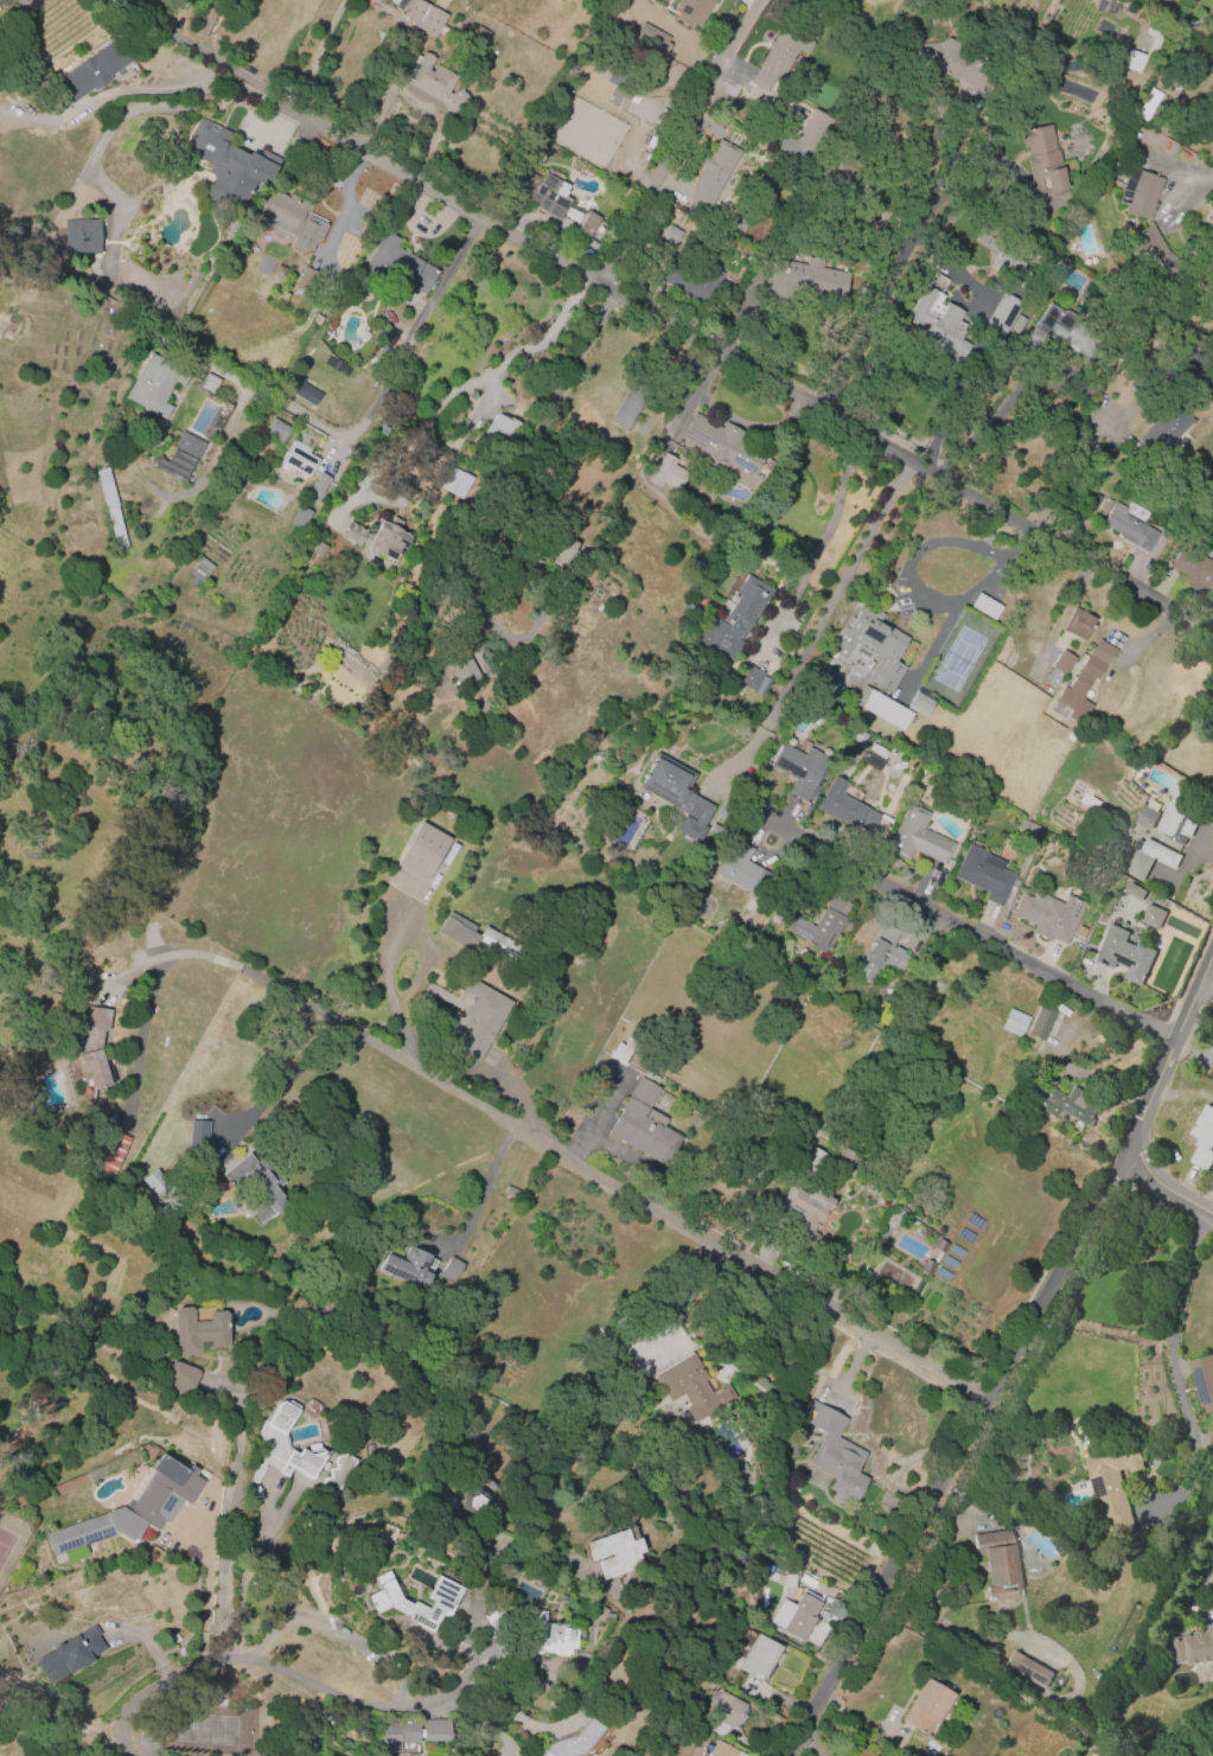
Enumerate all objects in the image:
building: (440, 4)
building: (690, 11)
building: (423, 17)
building: (205, 23)
building: (651, 37)
road: (196, 49)
building: (1145, 51)
building: (778, 56)
road: (320, 58)
building: (943, 60)
building: (92, 70)
road: (189, 85)
building: (433, 85)
building: (624, 85)
building: (1147, 104)
road: (121, 116)
building: (803, 138)
road: (681, 146)
building: (1043, 162)
building: (228, 164)
building: (714, 174)
road: (1199, 179)
building: (538, 192)
building: (1138, 192)
building: (291, 218)
building: (587, 224)
building: (671, 234)
building: (82, 237)
building: (1149, 249)
building: (398, 264)
building: (1008, 264)
road: (895, 270)
building: (306, 279)
building: (691, 280)
building: (805, 281)
building: (280, 298)
building: (315, 319)
building: (939, 324)
building: (1016, 324)
building: (1056, 333)
road: (581, 351)
road: (397, 369)
road: (735, 370)
road: (479, 378)
building: (208, 383)
building: (154, 384)
building: (306, 394)
road: (953, 396)
road: (1007, 400)
building: (627, 406)
building: (502, 428)
building: (1164, 428)
building: (276, 430)
building: (722, 445)
building: (180, 456)
building: (298, 459)
building: (668, 475)
building: (455, 481)
building: (317, 489)
building: (109, 506)
building: (1103, 506)
building: (299, 517)
building: (1129, 528)
building: (377, 537)
road: (979, 548)
road: (1021, 548)
building: (318, 550)
building: (562, 551)
building: (1193, 568)
building: (199, 570)
road: (1002, 572)
road: (913, 577)
building: (984, 606)
building: (735, 619)
road: (822, 619)
building: (1078, 624)
building: (873, 646)
building: (1062, 662)
building: (464, 671)
building: (748, 677)
building: (1085, 681)
building: (919, 704)
building: (882, 708)
building: (874, 756)
building: (800, 770)
building: (676, 793)
building: (1086, 802)
building: (845, 807)
building: (723, 810)
building: (1177, 815)
building: (1145, 817)
building: (714, 829)
building: (918, 836)
building: (420, 850)
building: (1148, 858)
building: (743, 871)
building: (984, 874)
building: (1132, 892)
building: (1048, 915)
building: (1151, 917)
building: (819, 924)
road: (966, 927)
building: (475, 937)
building: (880, 953)
building: (1122, 954)
road: (324, 1011)
building: (480, 1014)
building: (875, 1015)
building: (1013, 1022)
building: (1040, 1022)
building: (92, 1047)
building: (619, 1053)
road: (302, 1066)
building: (1061, 1104)
building: (643, 1125)
building: (197, 1134)
building: (1202, 1137)
building: (110, 1152)
building: (155, 1182)
building: (255, 1186)
road: (487, 1188)
road: (1166, 1192)
building: (805, 1208)
road: (746, 1260)
building: (404, 1266)
building: (451, 1270)
road: (678, 1294)
road: (1169, 1327)
building: (198, 1330)
road: (1015, 1358)
building: (181, 1377)
building: (1202, 1381)
building: (692, 1388)
building: (1209, 1436)
building: (273, 1441)
building: (835, 1455)
building: (254, 1473)
building: (338, 1473)
building: (1112, 1484)
building: (475, 1503)
building: (130, 1508)
road: (223, 1513)
building: (614, 1553)
building: (998, 1564)
road: (241, 1594)
building: (415, 1602)
building: (797, 1615)
building: (549, 1636)
building: (1194, 1647)
road: (471, 1650)
building: (69, 1654)
building: (758, 1656)
building: (1027, 1669)
road: (410, 1672)
road: (160, 1686)
building: (926, 1706)
building: (723, 1712)
road: (57, 1715)
road: (517, 1716)
building: (411, 1732)
building: (574, 1739)
building: (723, 1750)
building: (861, 1752)

